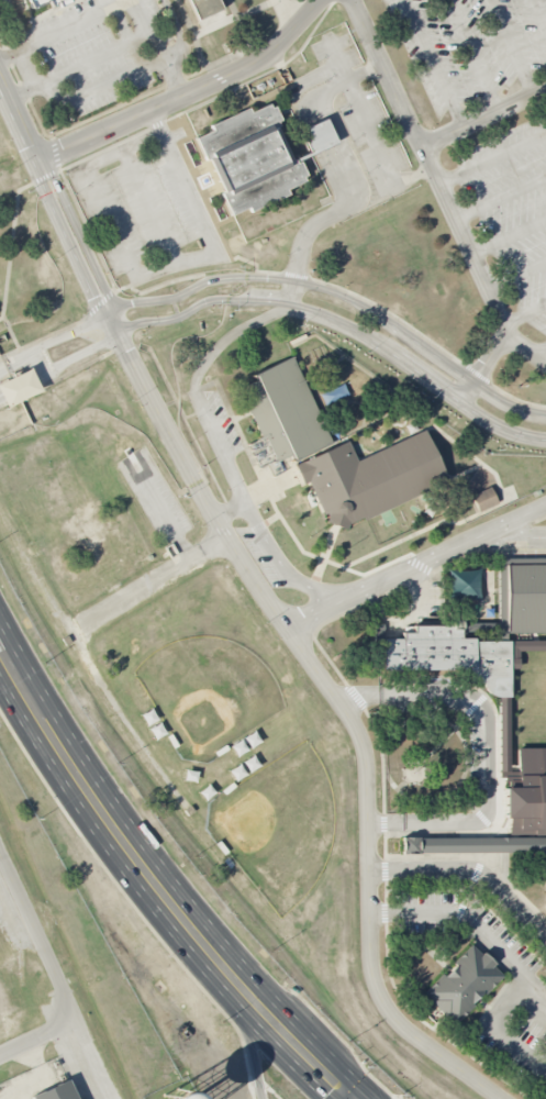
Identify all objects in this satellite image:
building: (189, 0)
building: (37, 2)
building: (60, 2)
building: (207, 10)
road: (538, 14)
road: (140, 15)
road: (16, 23)
road: (179, 34)
road: (510, 47)
parking lot: (471, 48)
parking lot: (96, 54)
road: (471, 55)
road: (9, 56)
road: (433, 64)
road: (79, 66)
road: (172, 77)
road: (189, 92)
road: (483, 116)
parking lot: (347, 126)
road: (370, 130)
building: (317, 136)
building: (249, 158)
road: (491, 158)
road: (343, 173)
road: (442, 195)
road: (499, 198)
road: (59, 204)
road: (148, 206)
parking lot: (148, 209)
parking lot: (509, 215)
road: (506, 237)
road: (12, 238)
road: (156, 267)
road: (514, 275)
road: (341, 295)
road: (525, 311)
road: (343, 323)
road: (11, 334)
road: (54, 341)
road: (520, 343)
road: (541, 351)
road: (541, 357)
road: (60, 366)
building: (19, 388)
building: (286, 411)
parking lot: (225, 422)
road: (213, 432)
building: (370, 478)
road: (194, 484)
parking lot: (155, 496)
building: (484, 499)
road: (161, 510)
road: (230, 510)
road: (517, 536)
parking lot: (259, 556)
road: (415, 565)
road: (151, 584)
building: (479, 630)
building: (378, 633)
park: (207, 690)
road: (488, 743)
building: (527, 792)
park: (276, 822)
road: (110, 824)
building: (480, 846)
road: (471, 869)
road: (371, 877)
road: (36, 939)
road: (508, 959)
building: (463, 984)
road: (535, 984)
parking lot: (517, 1009)
road: (36, 1035)
road: (250, 1044)
road: (296, 1045)
road: (90, 1058)
building: (57, 1091)
road: (352, 1098)
traffic signals: (353, 1098)

